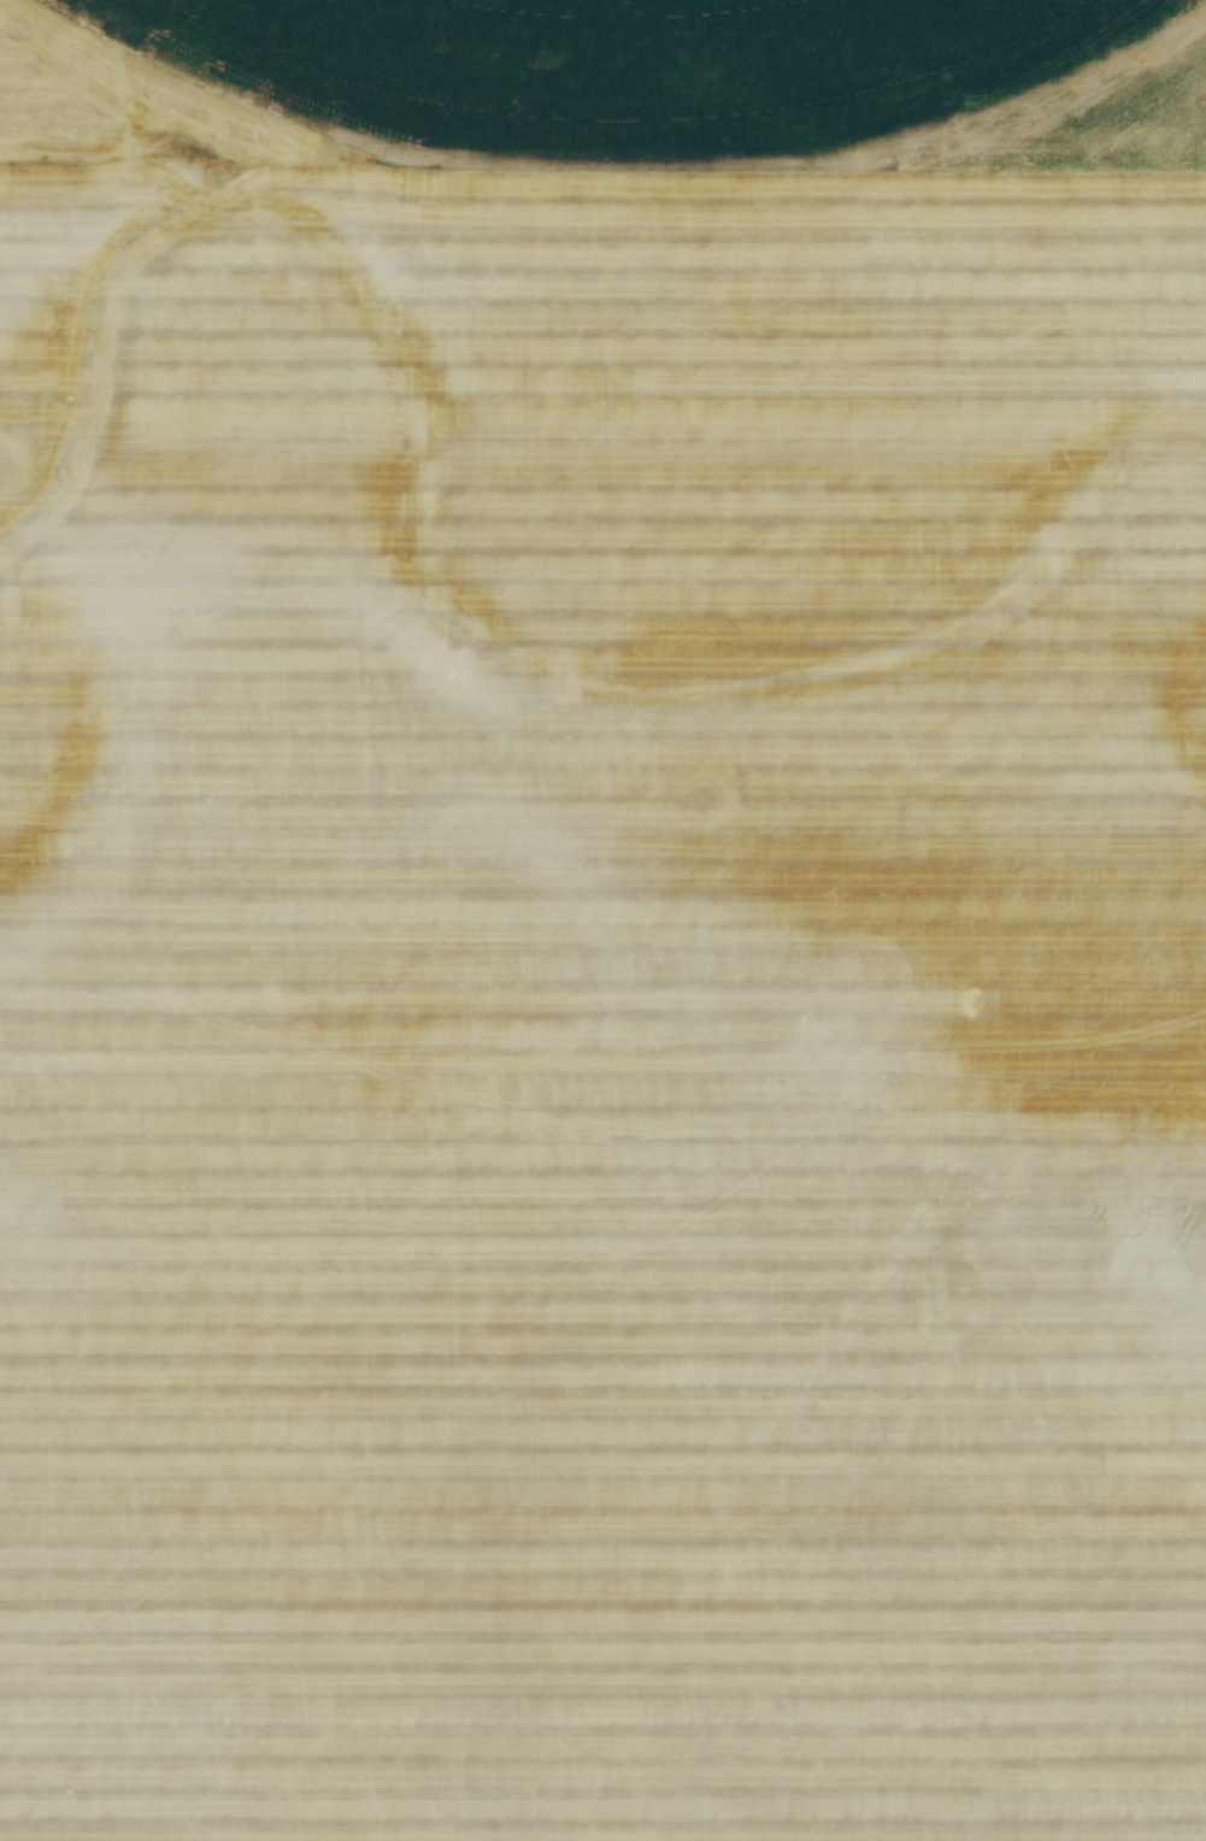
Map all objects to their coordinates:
crop: (602, 920)

